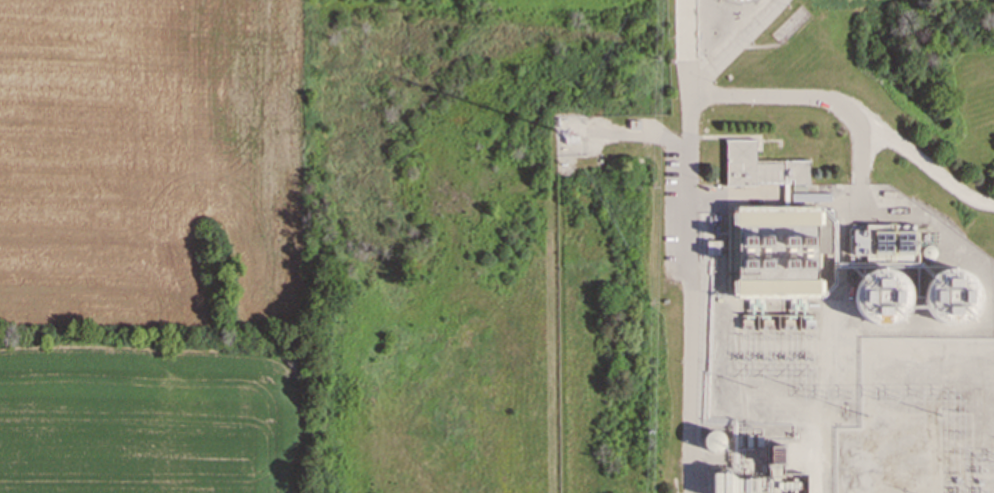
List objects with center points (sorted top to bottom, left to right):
road: (732, 48)
road: (688, 49)
road: (852, 111)
crop: (151, 156)
building: (760, 167)
building: (712, 247)
building: (775, 250)
road: (689, 296)
building: (950, 297)
storage tank: (950, 297)
building: (881, 299)
storage tank: (881, 299)
power substation: (920, 418)
crop: (148, 423)

